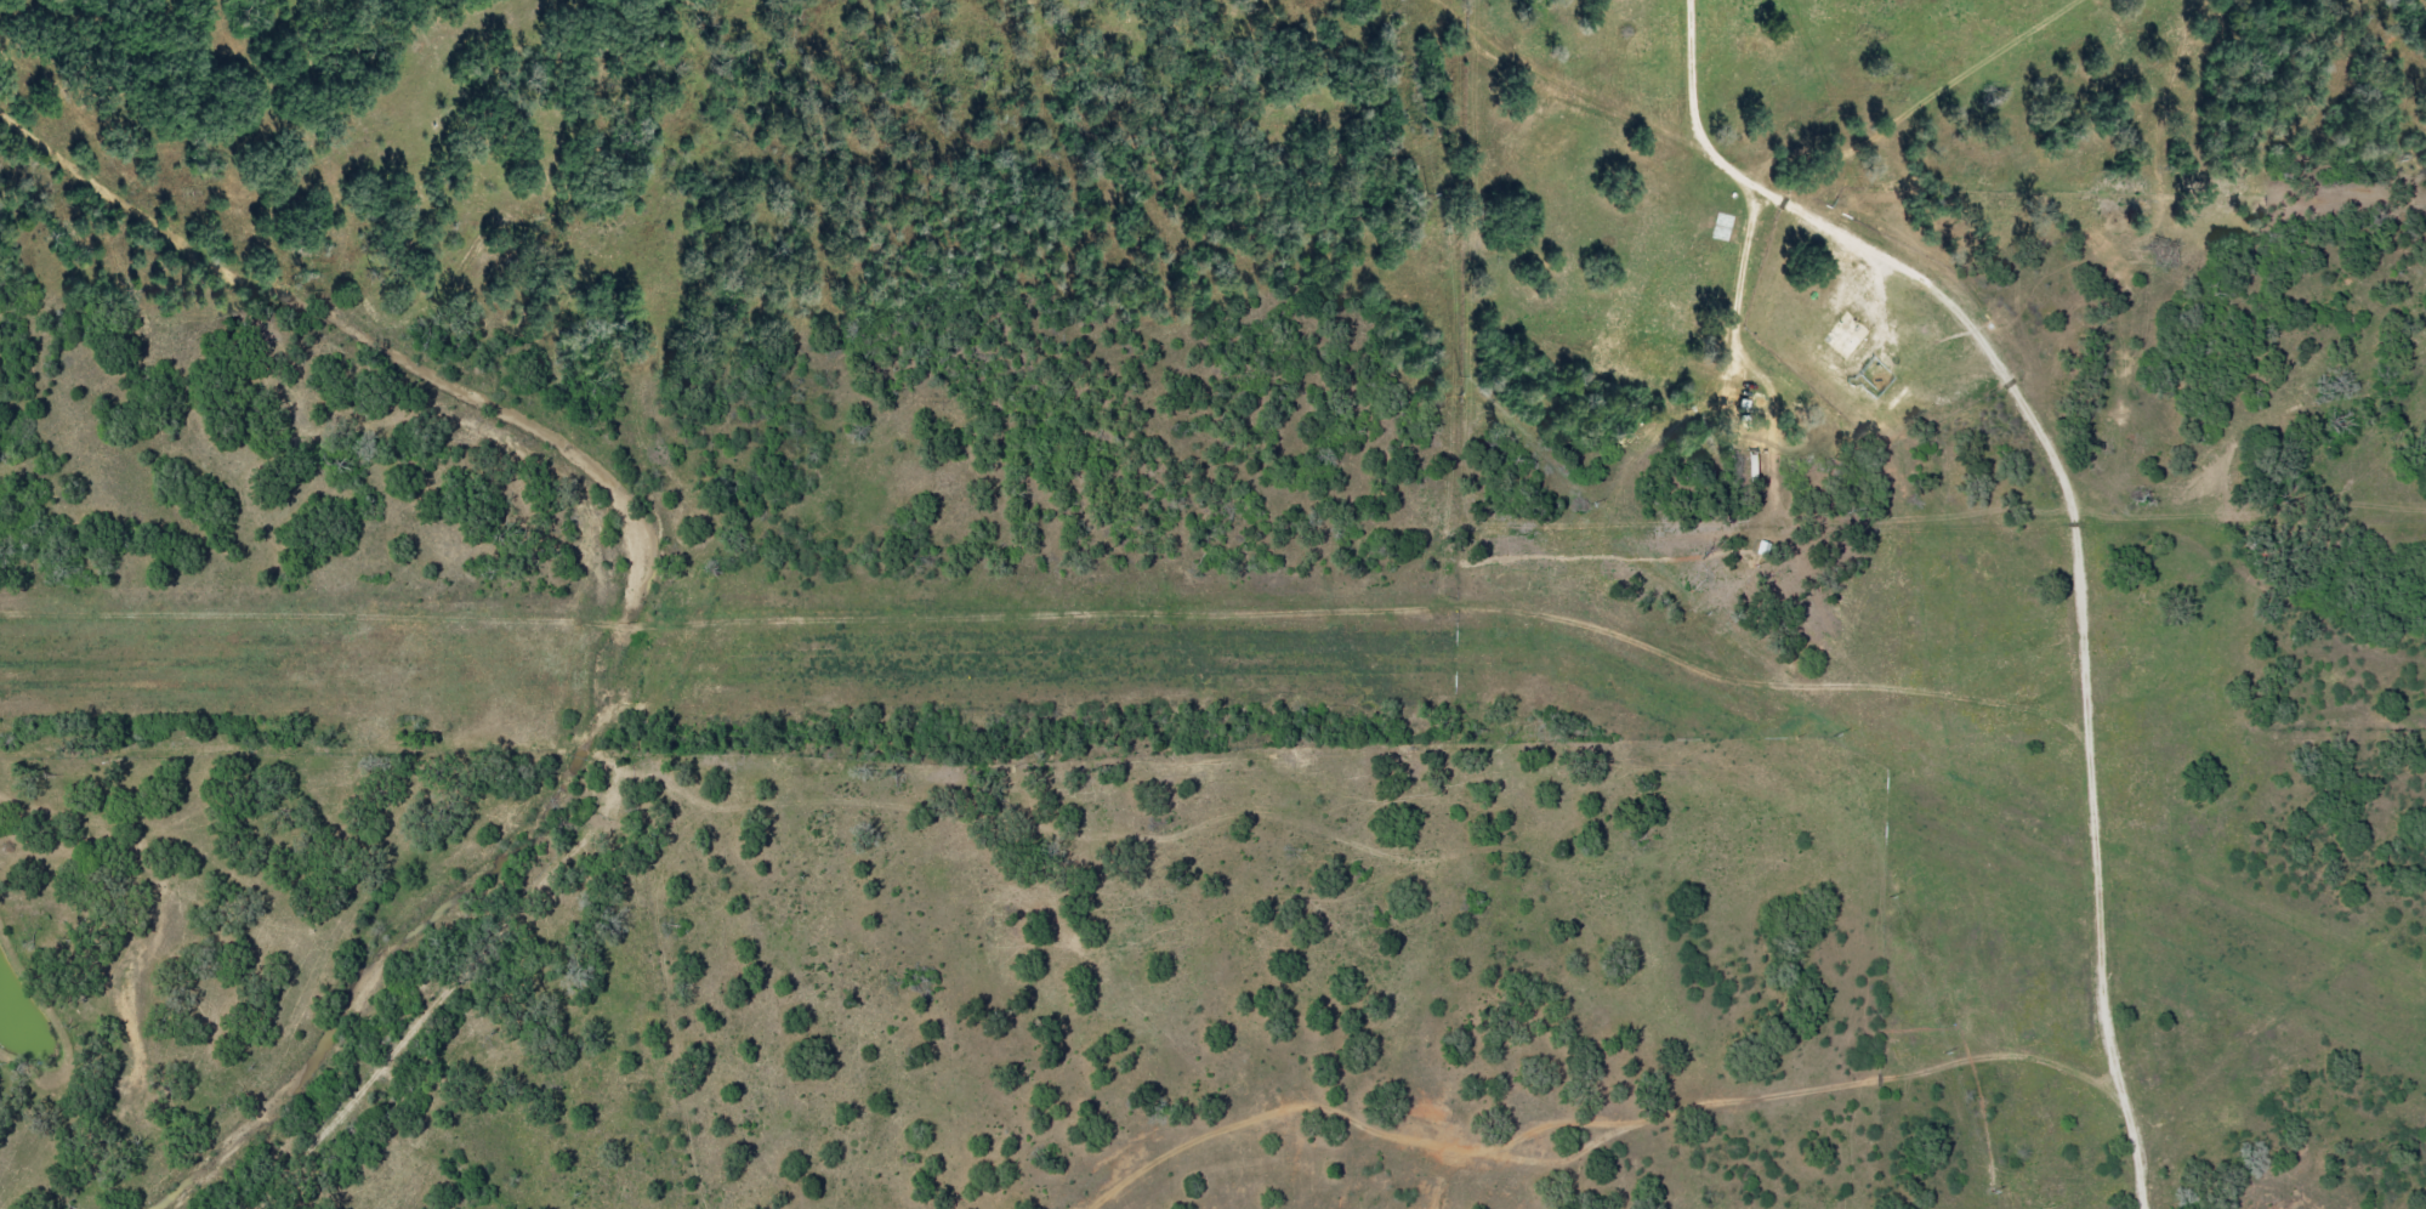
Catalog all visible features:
road: (1982, 286)
road: (2010, 1095)
road: (1374, 1123)
road: (2141, 1152)

